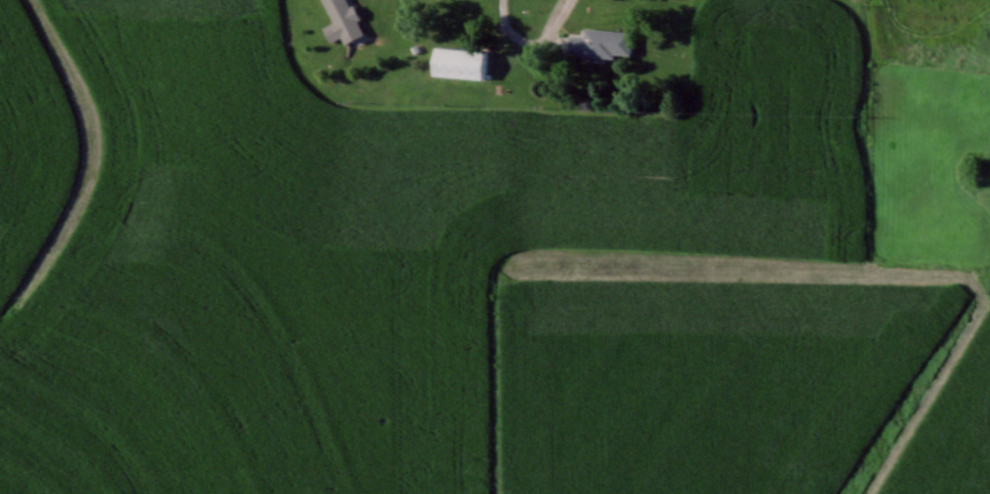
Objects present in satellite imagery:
building: (342, 20)
road: (531, 40)
building: (600, 42)
building: (457, 62)

